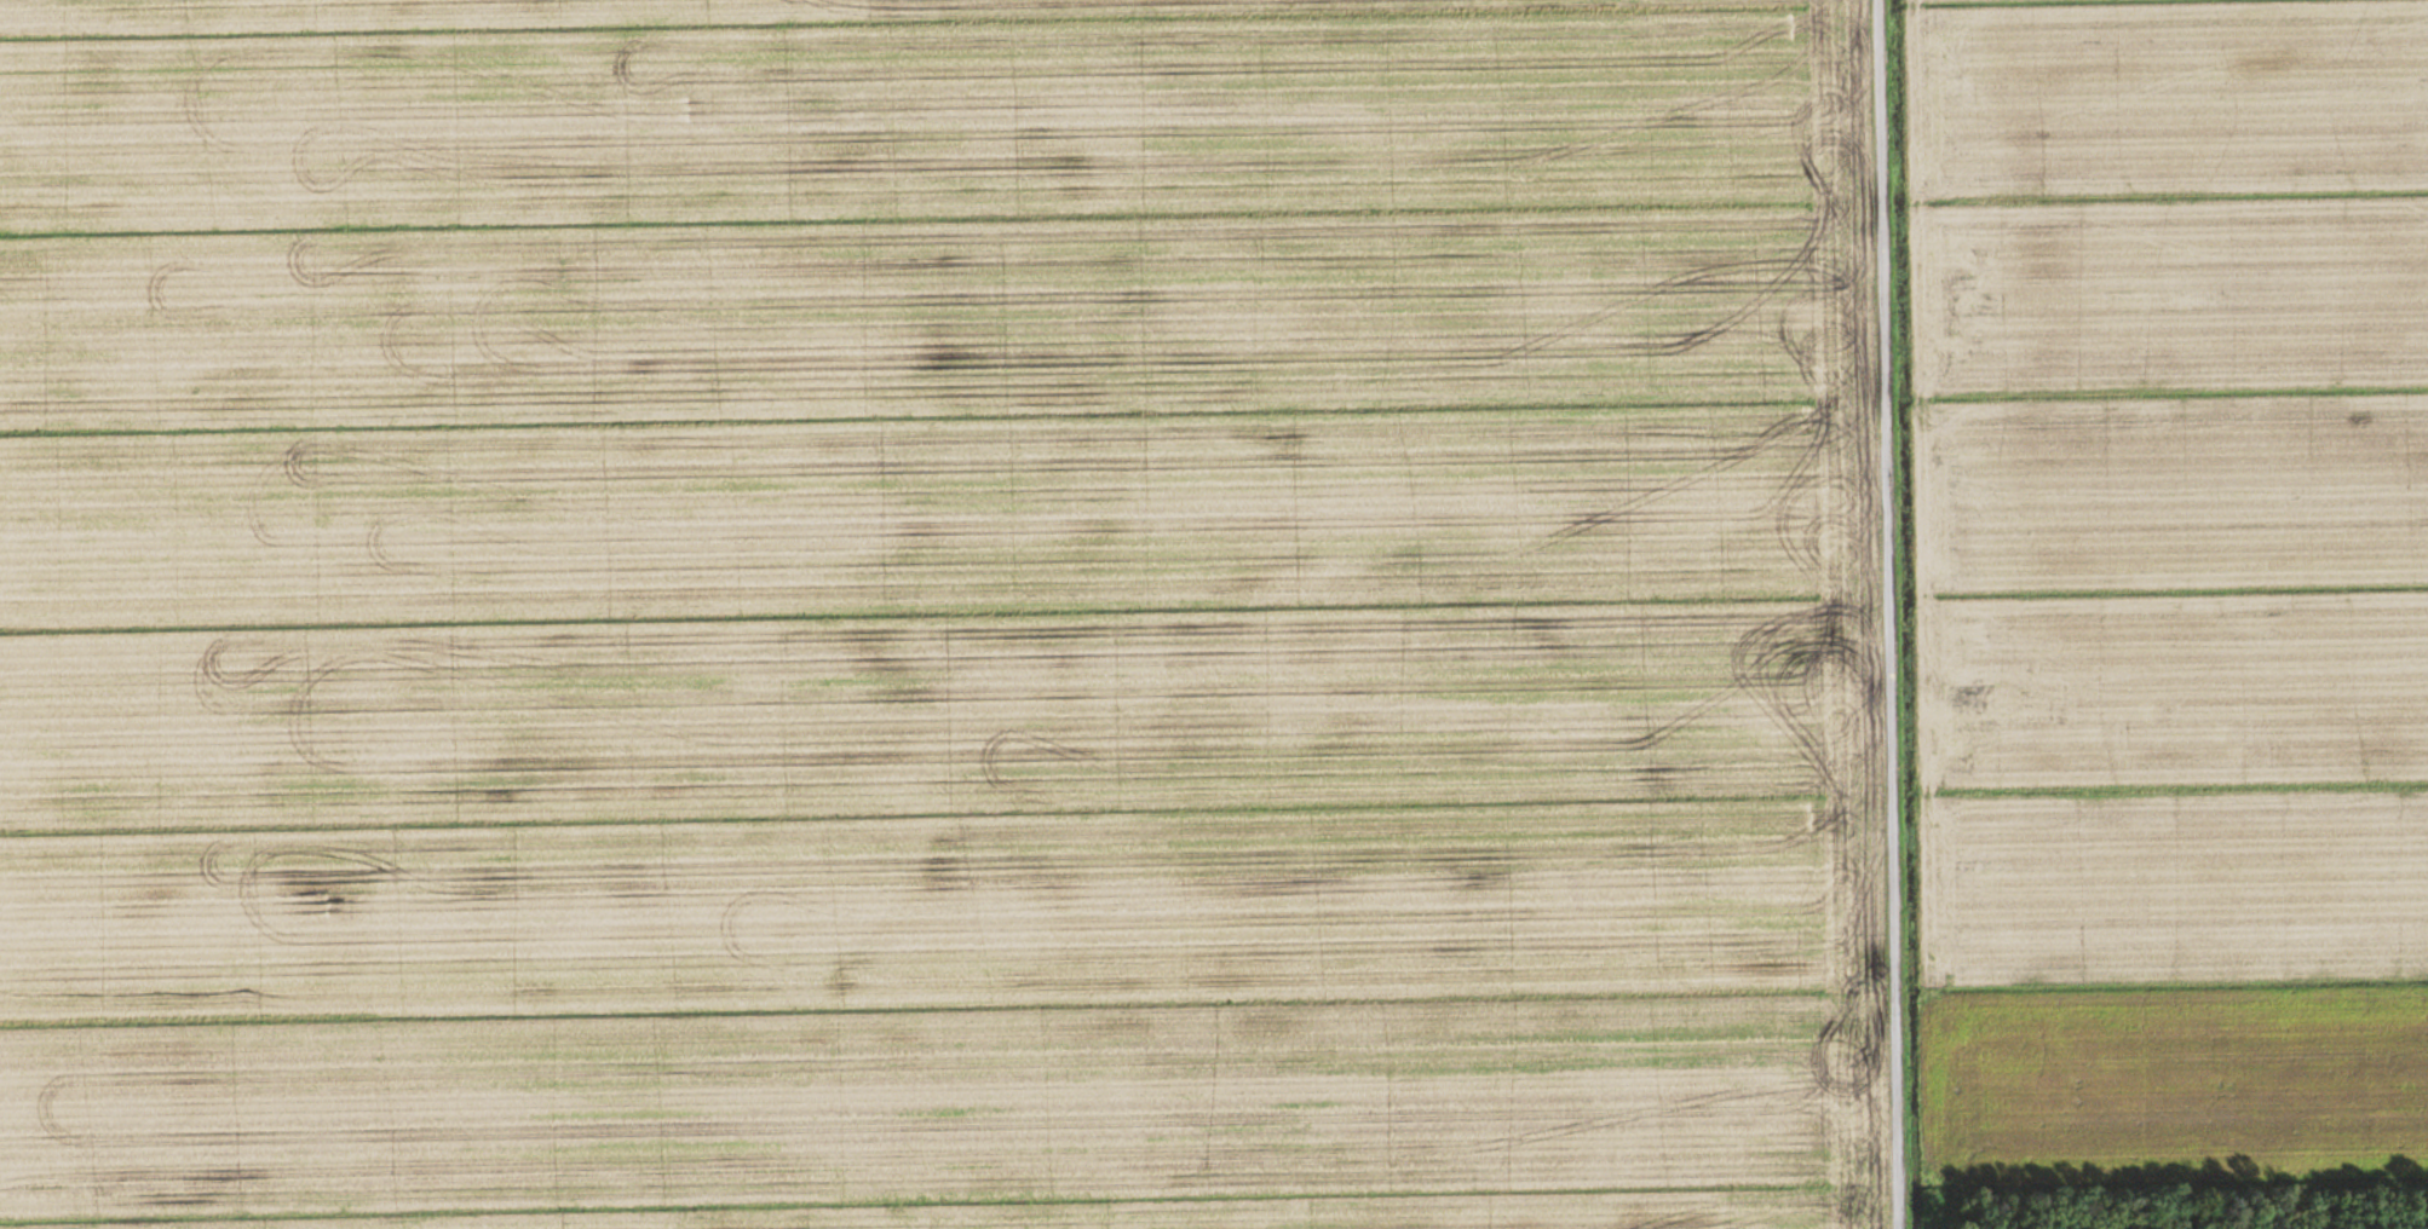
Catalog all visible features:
crop: (942, 616)

